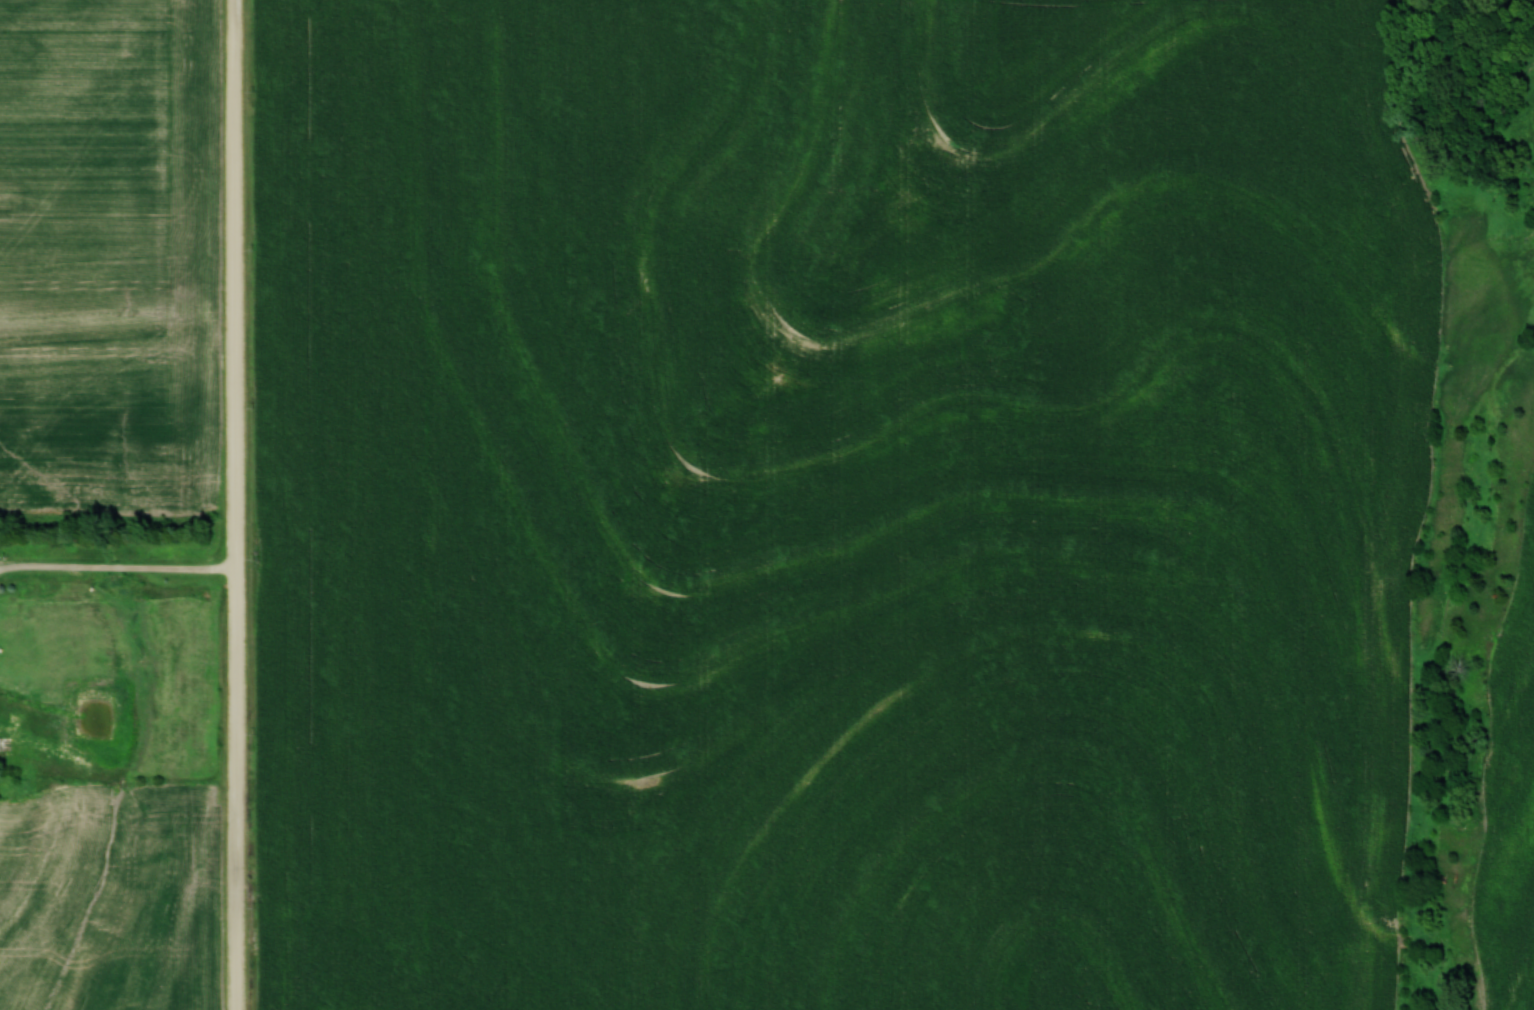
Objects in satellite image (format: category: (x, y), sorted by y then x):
road: (240, 505)
road: (120, 570)
building: (1, 743)

